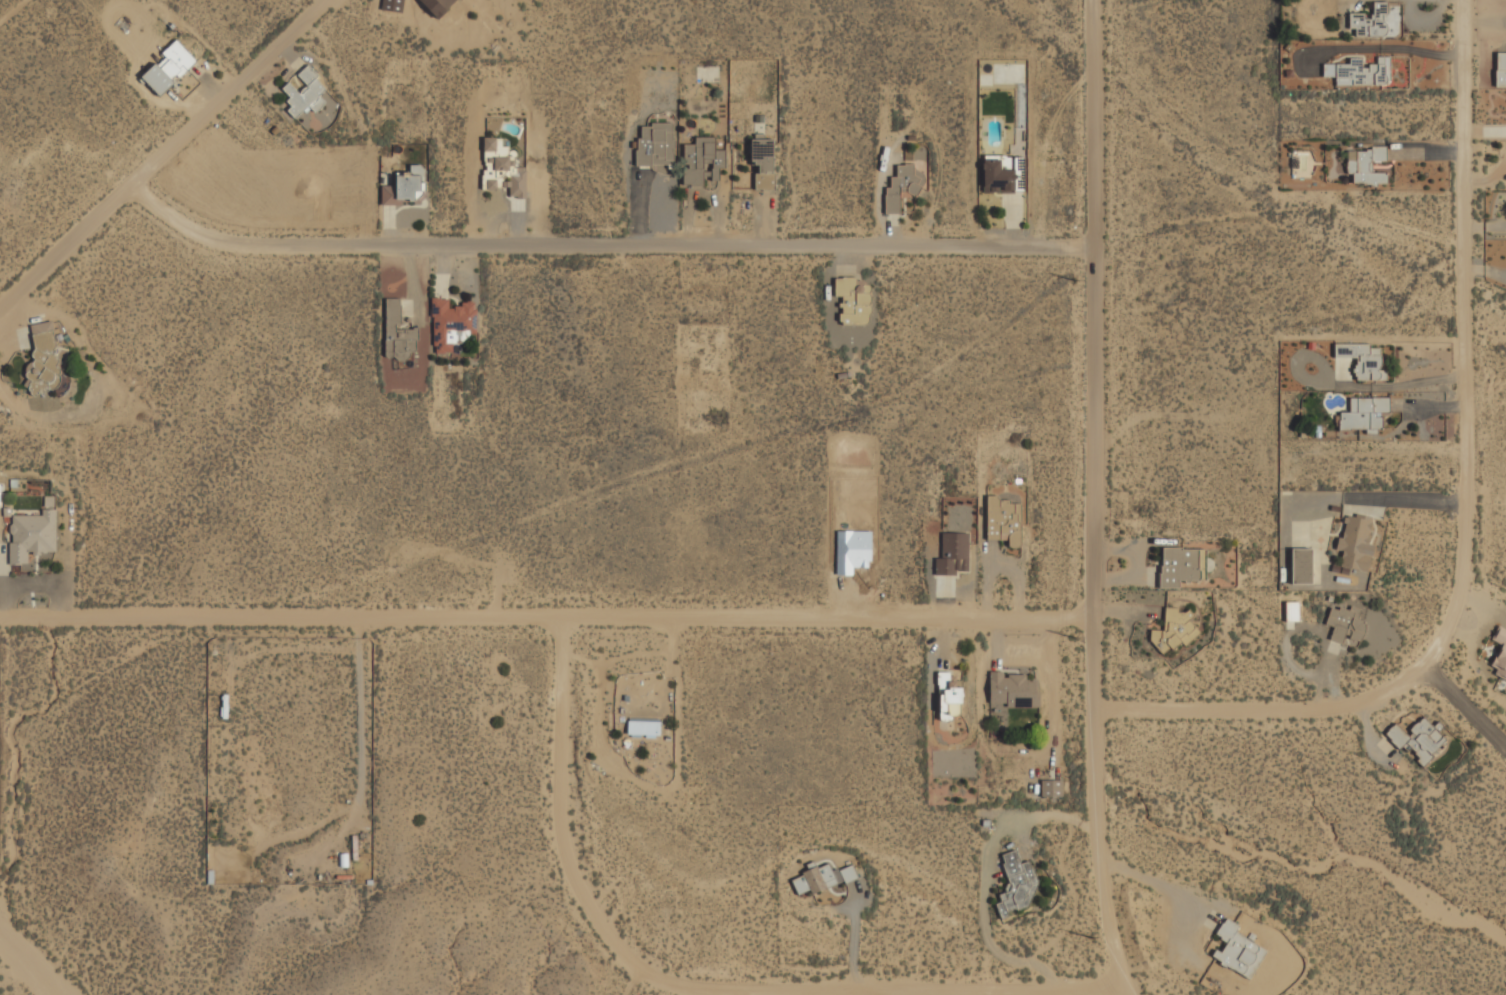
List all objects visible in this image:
building: (392, 6)
building: (438, 7)
building: (1369, 22)
building: (167, 69)
building: (1500, 70)
building: (1360, 73)
building: (304, 93)
building: (654, 145)
building: (701, 162)
road: (171, 163)
building: (762, 163)
building: (1365, 166)
building: (350, 167)
building: (501, 170)
building: (1001, 176)
building: (239, 180)
building: (405, 188)
building: (901, 188)
road: (611, 246)
power tower: (1073, 280)
building: (852, 302)
building: (450, 324)
building: (397, 333)
road: (1469, 341)
building: (1361, 360)
building: (41, 361)
building: (1362, 415)
road: (1092, 498)
building: (1003, 521)
building: (30, 538)
building: (1355, 542)
building: (851, 551)
building: (951, 555)
building: (1179, 566)
building: (1300, 567)
building: (1291, 612)
road: (545, 623)
building: (1345, 626)
building: (1175, 631)
power tower: (1072, 637)
building: (1499, 653)
building: (1012, 691)
building: (949, 695)
road: (1464, 710)
road: (1267, 715)
building: (642, 727)
building: (1416, 740)
road: (568, 788)
building: (1050, 790)
building: (821, 879)
building: (1016, 884)
power tower: (1090, 936)
building: (1237, 951)
road: (857, 991)
road: (842, 993)
road: (887, 993)

